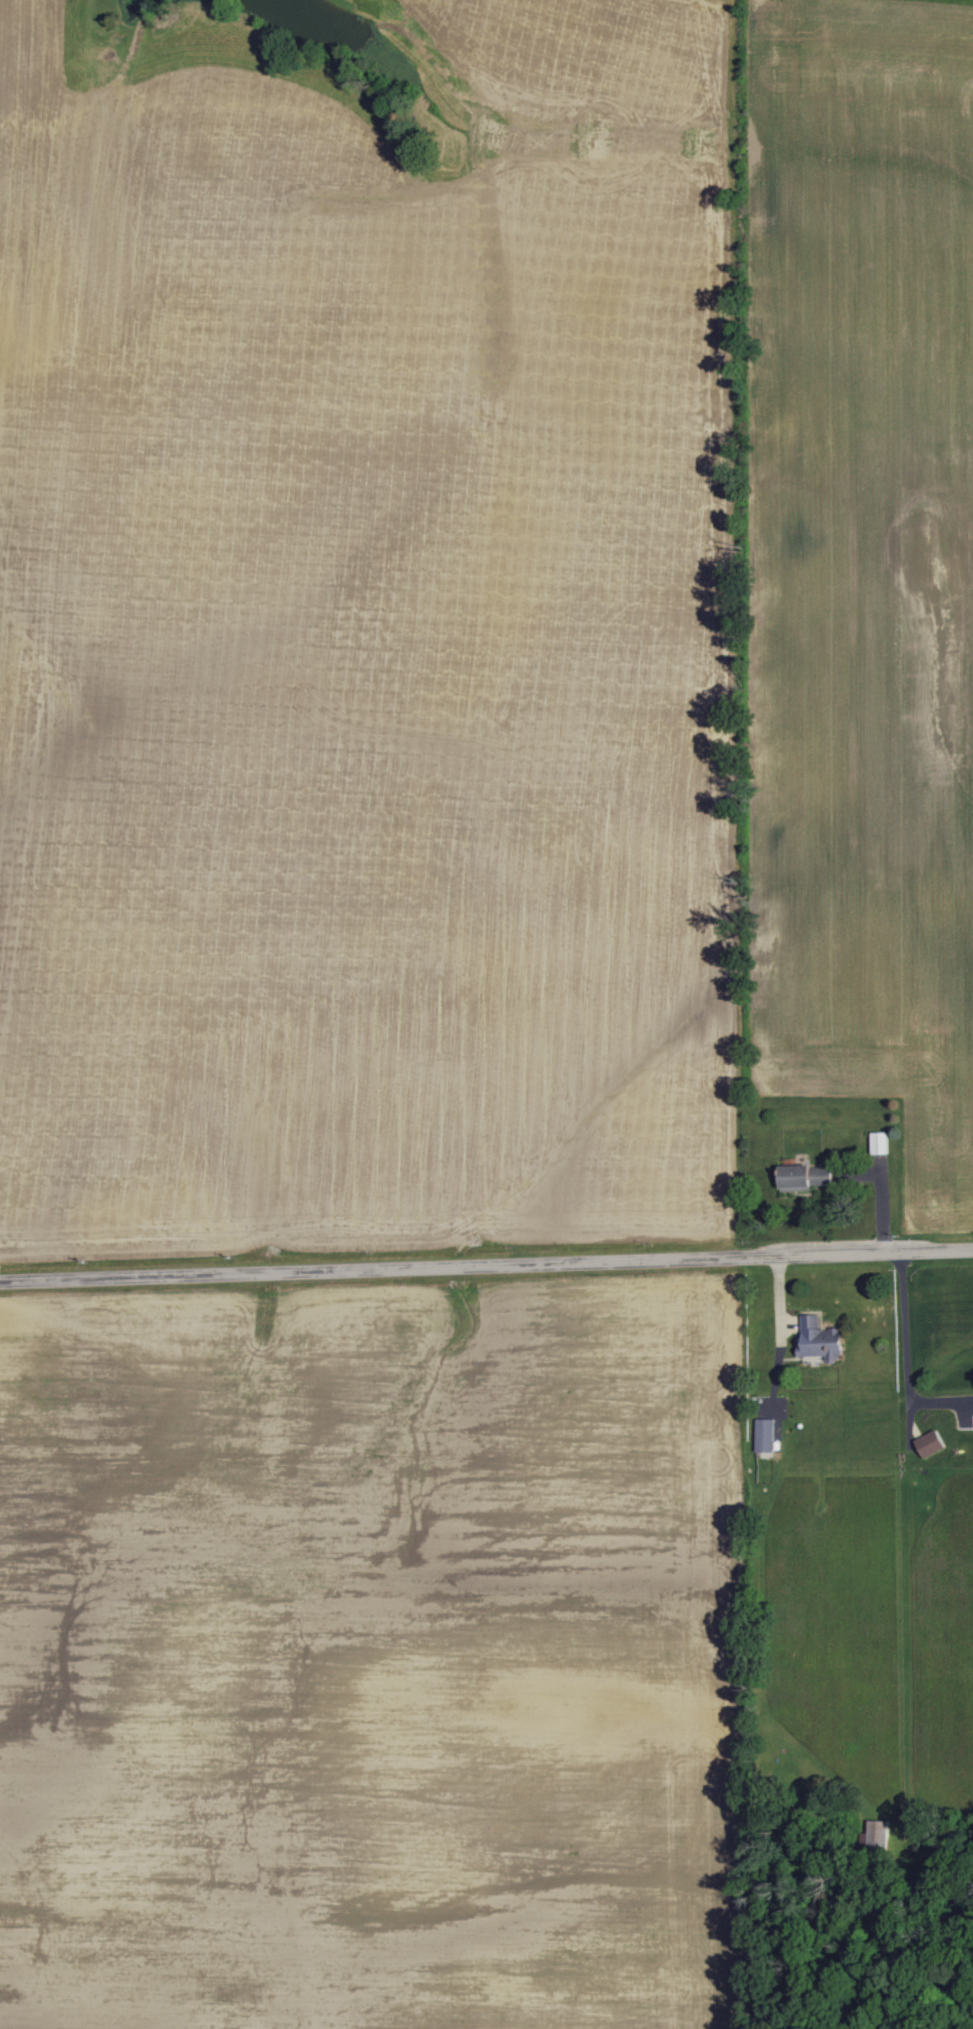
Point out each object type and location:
building: (881, 1143)
building: (807, 1176)
road: (882, 1200)
road: (486, 1266)
road: (780, 1331)
building: (821, 1339)
road: (906, 1358)
building: (816, 1359)
building: (766, 1435)
building: (931, 1444)

